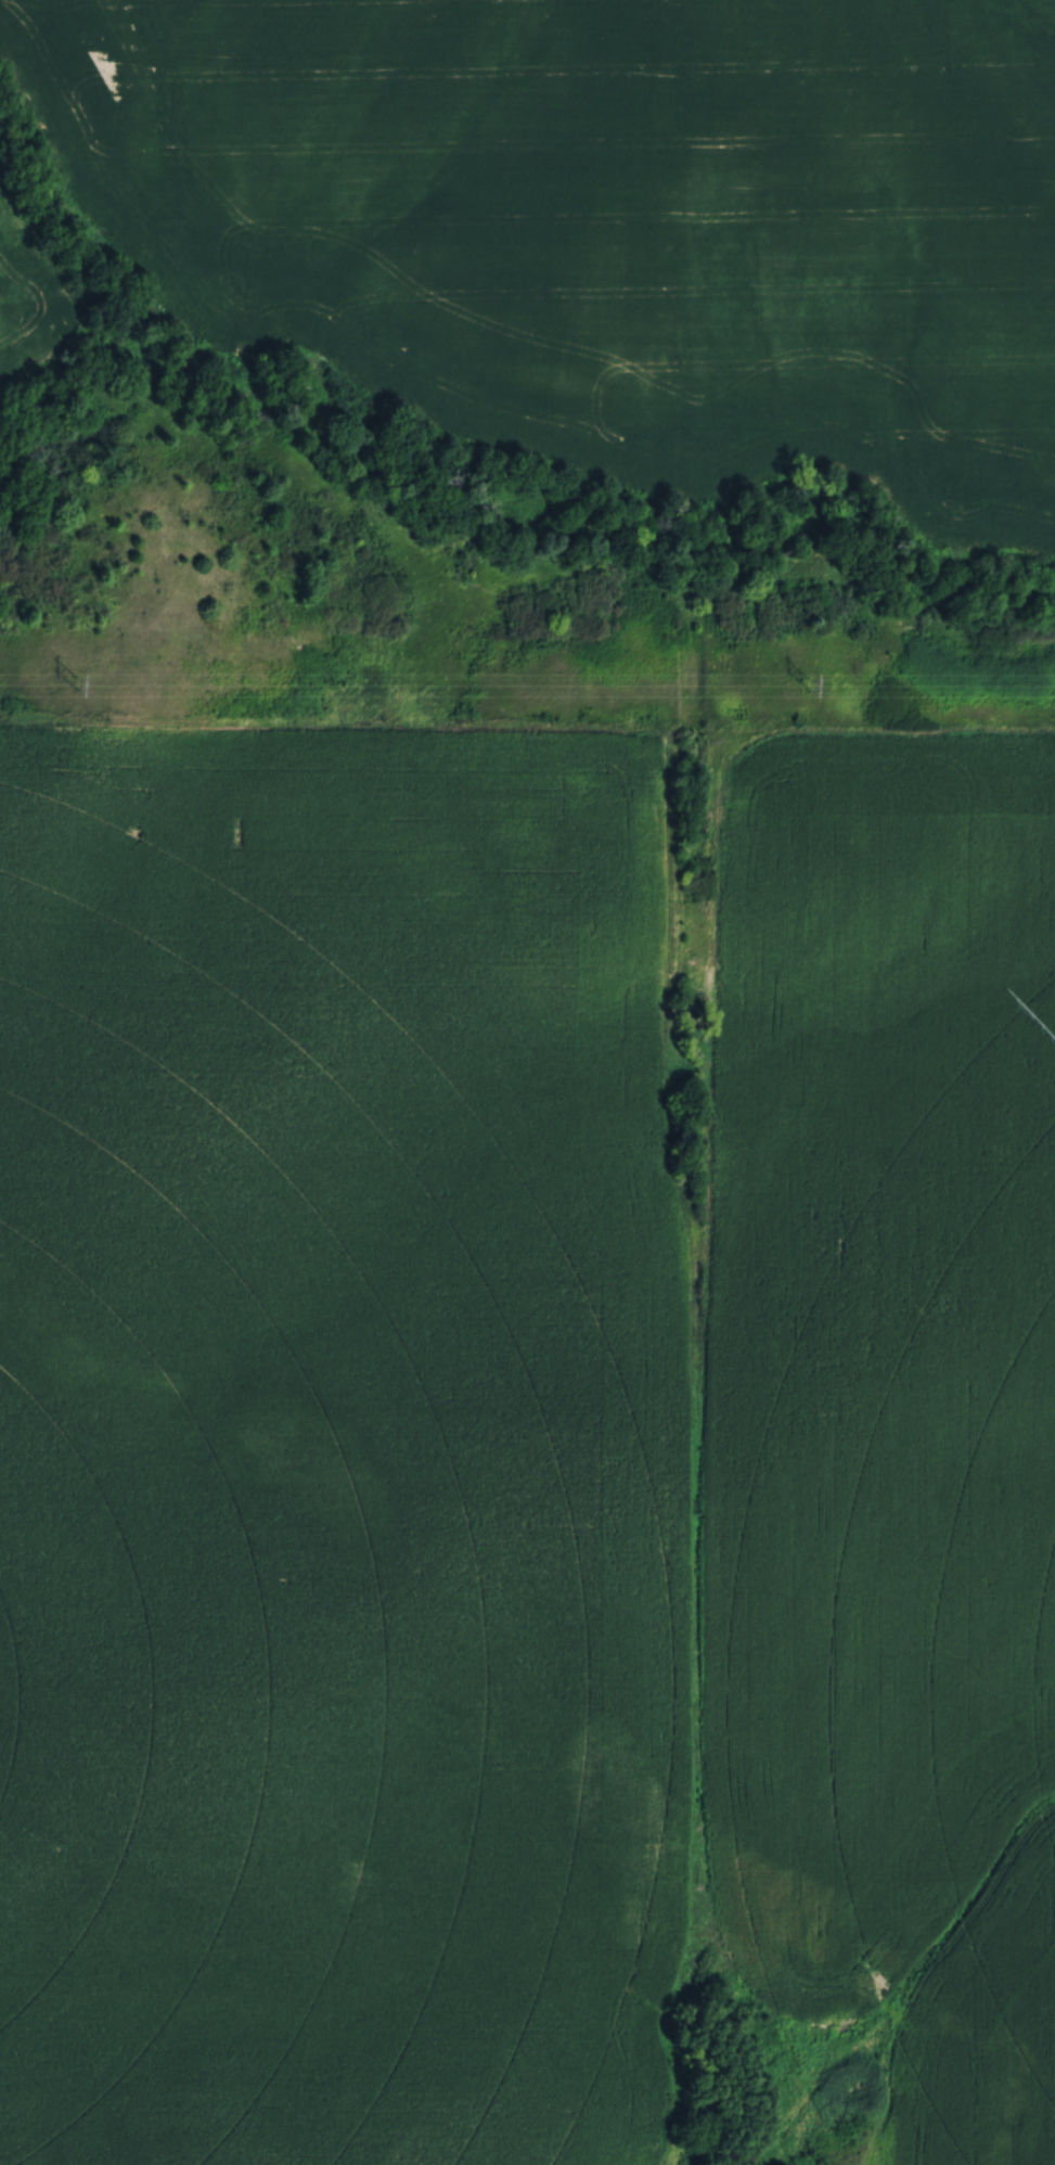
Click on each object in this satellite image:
power tower: (77, 681)
power tower: (809, 682)

